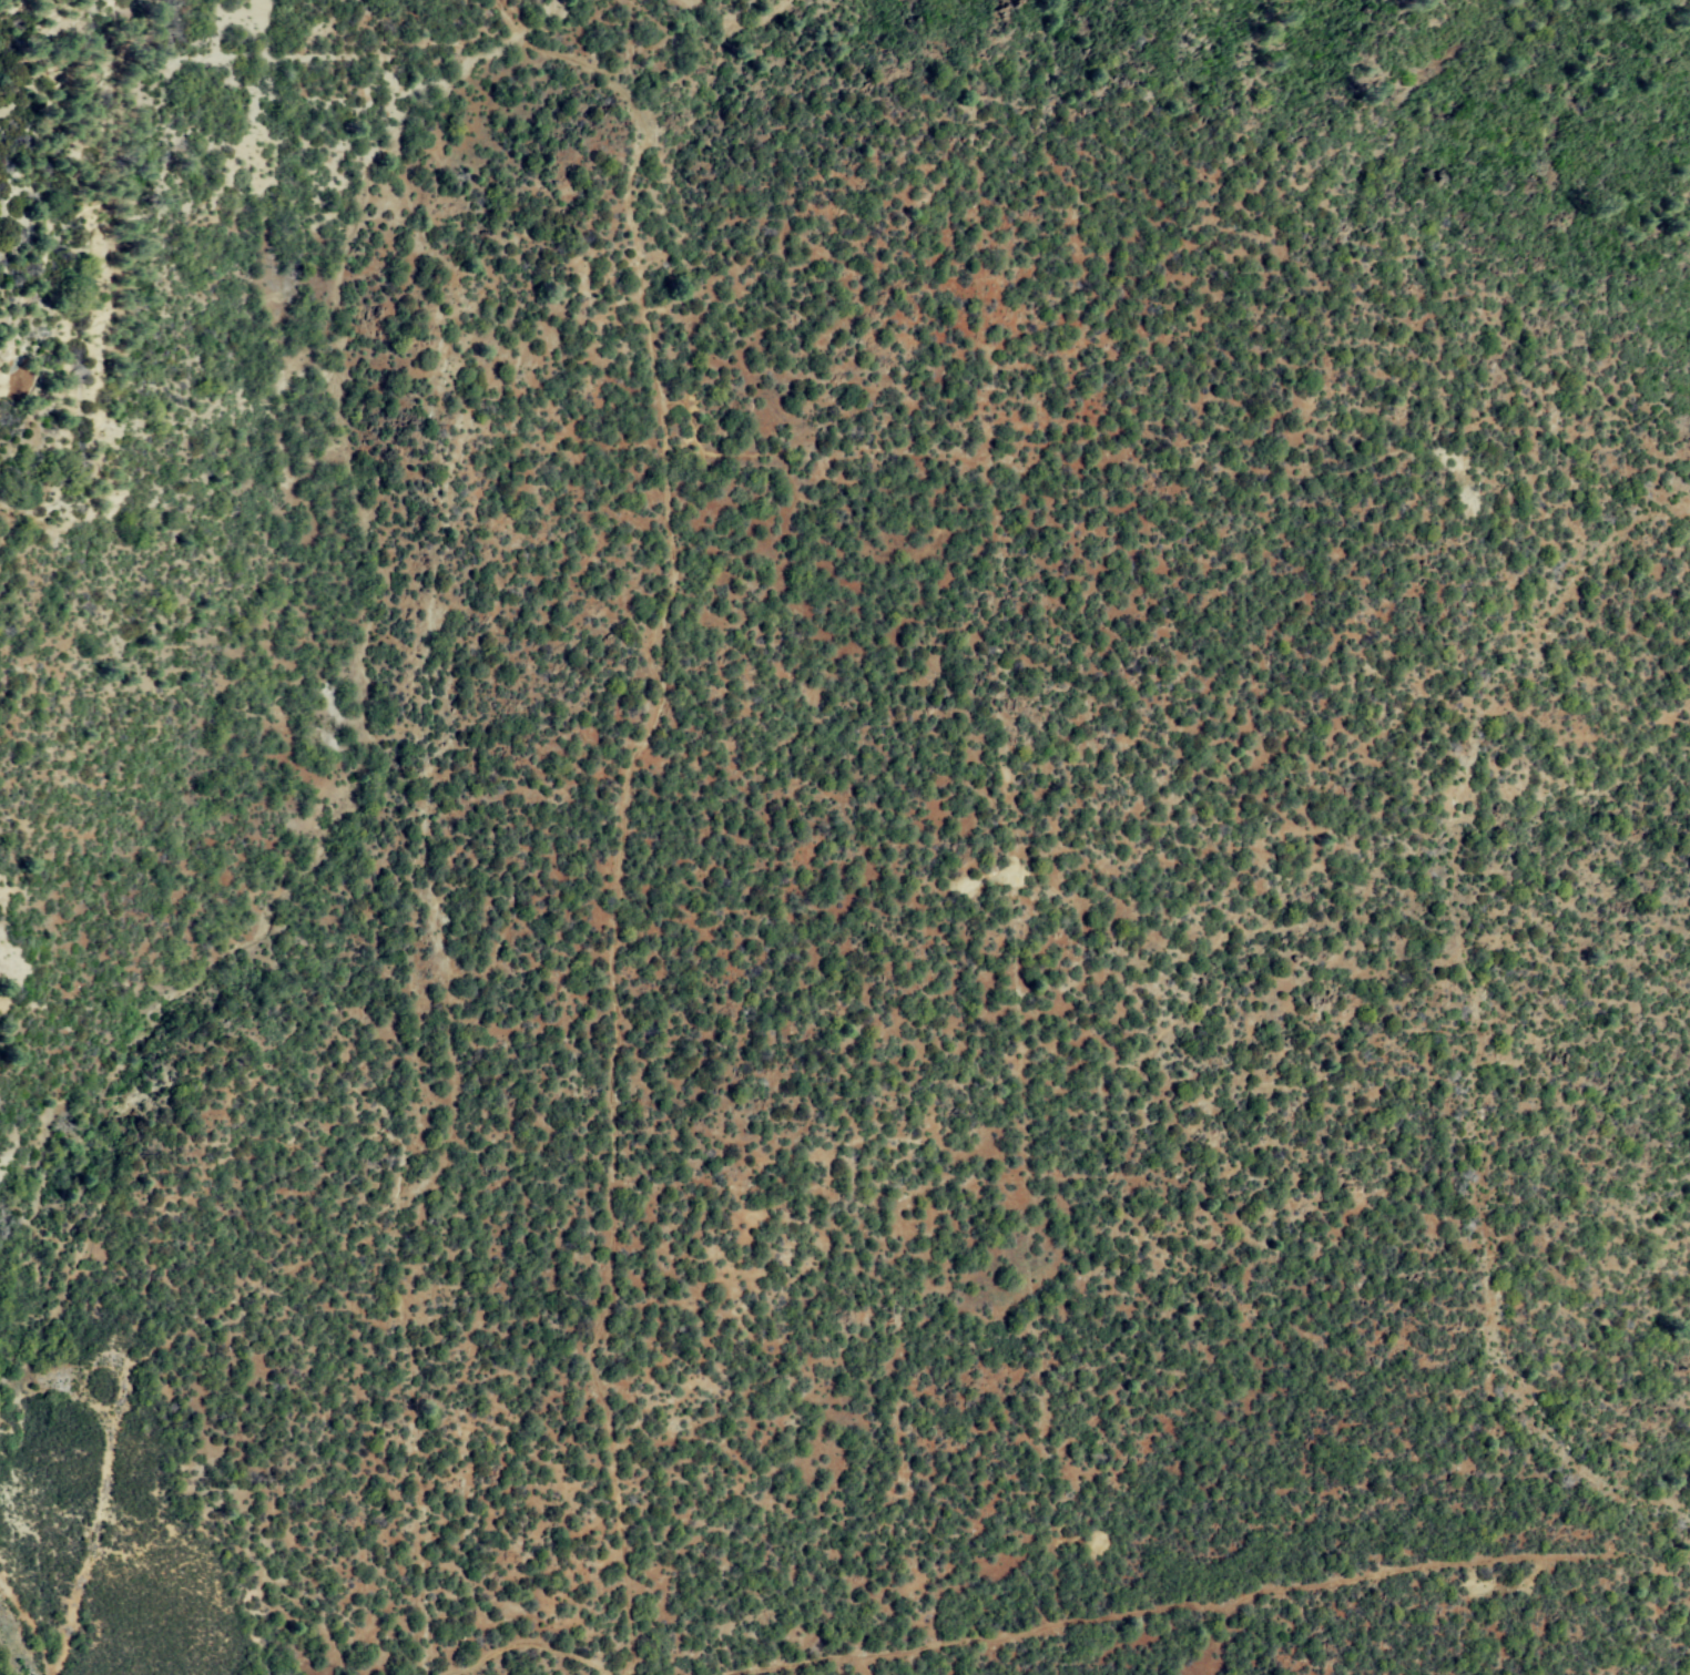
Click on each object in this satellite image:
road: (27, 17)

